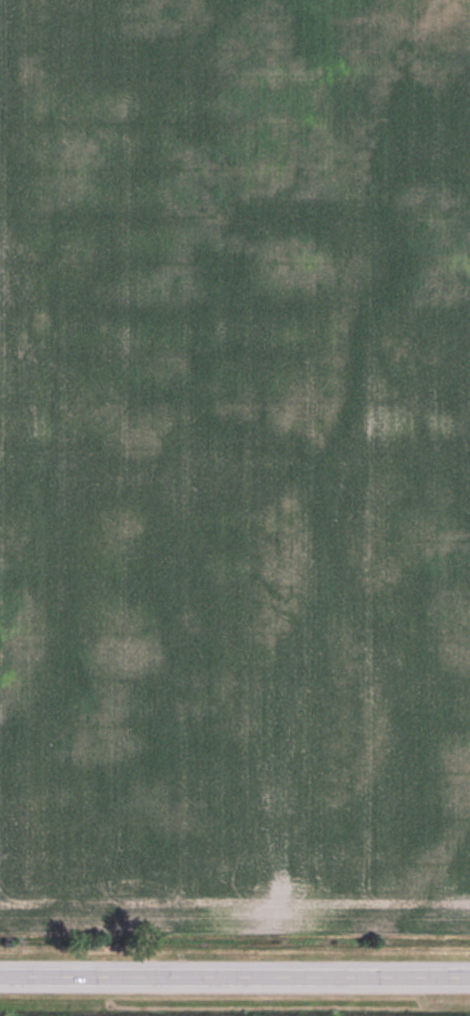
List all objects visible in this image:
road: (235, 977)

